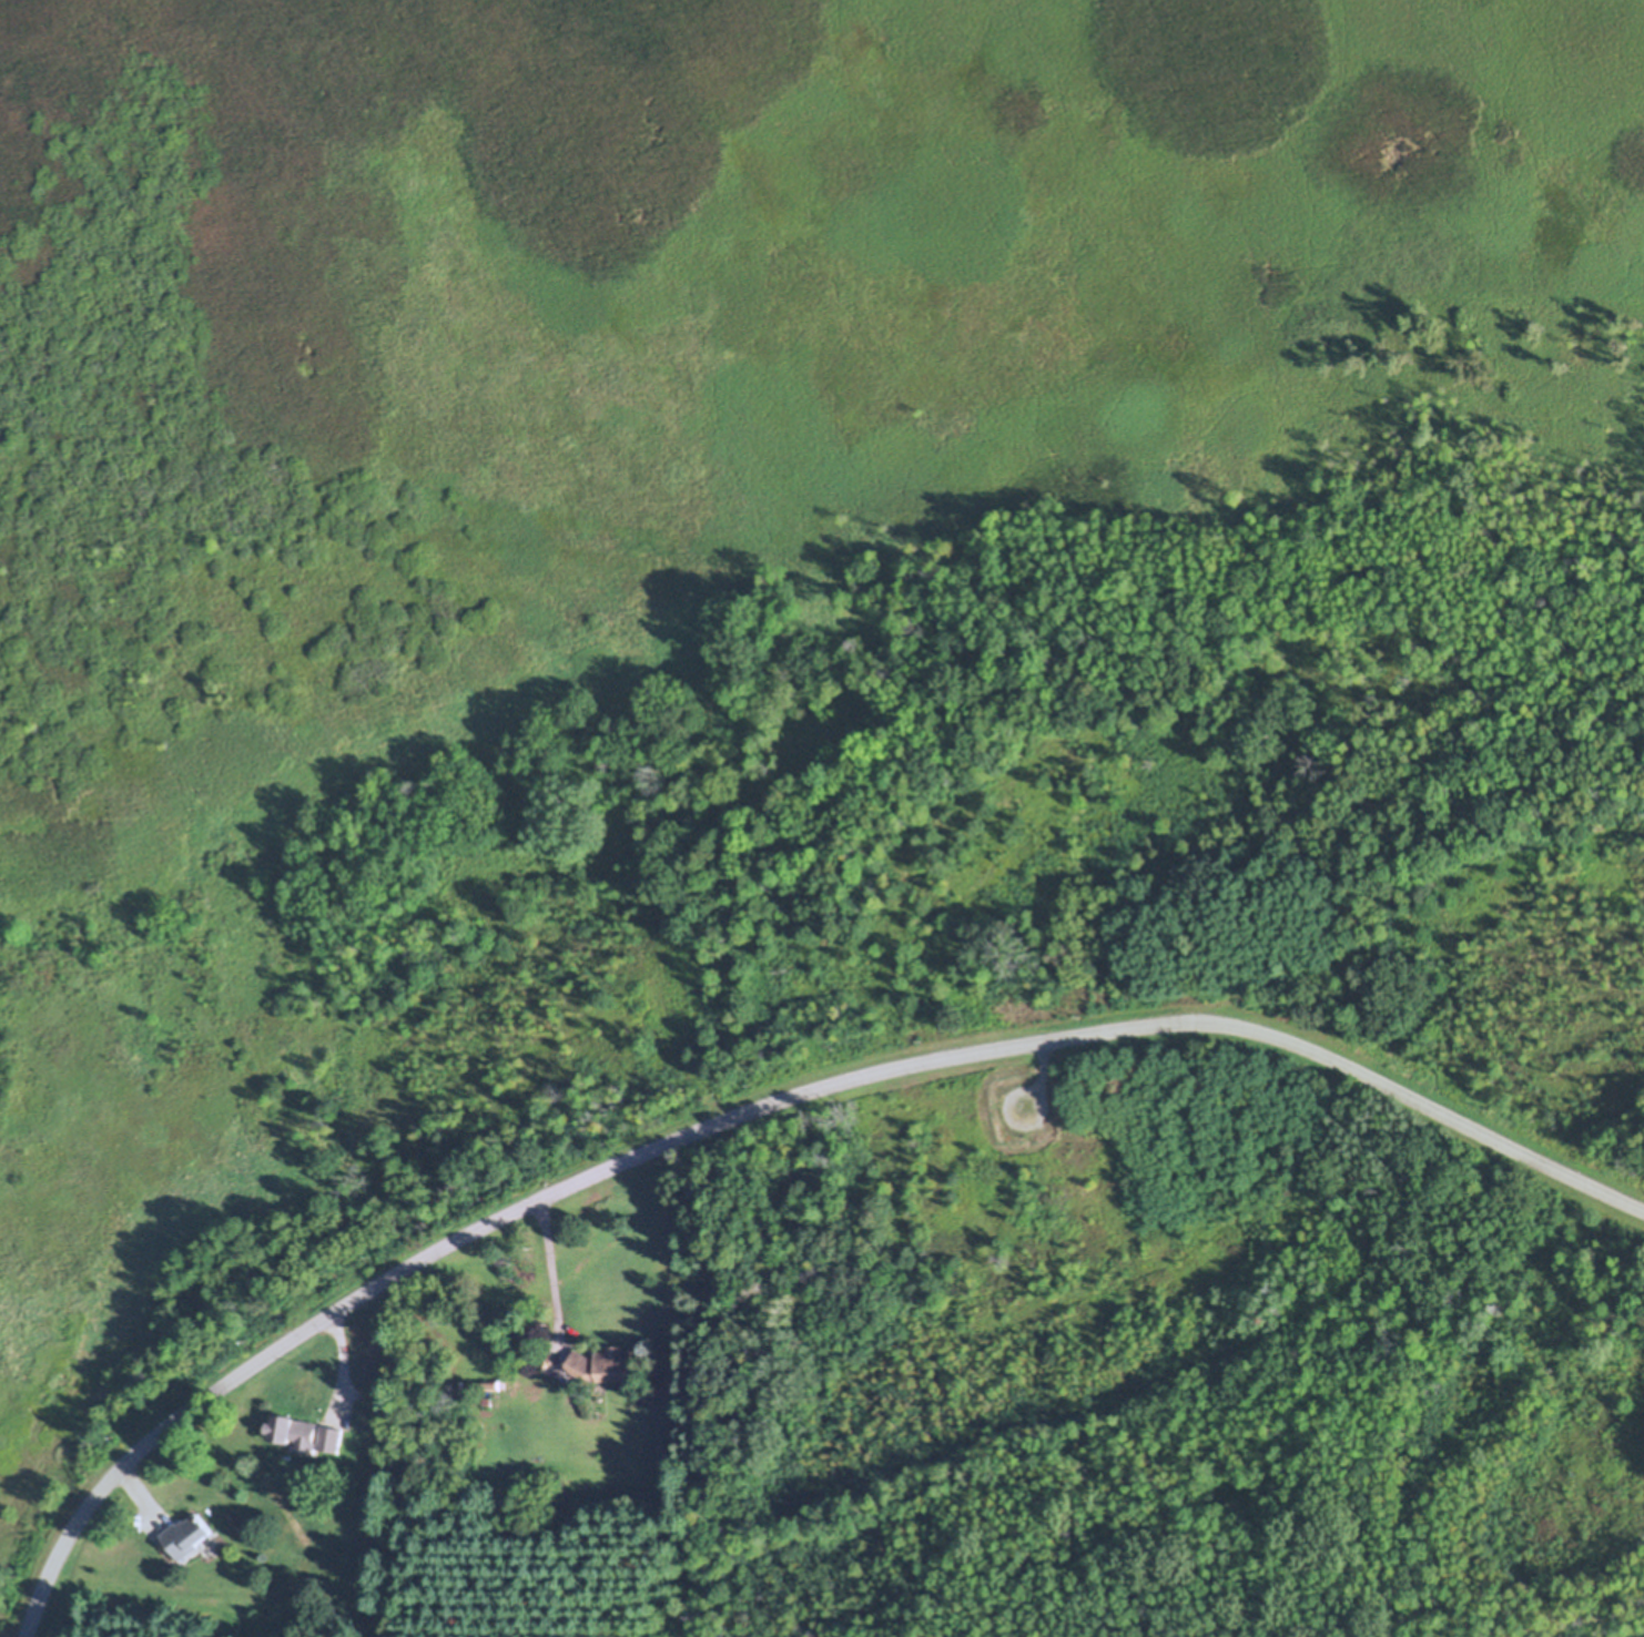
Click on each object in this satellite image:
road: (762, 1110)
road: (551, 1277)
building: (527, 1334)
building: (605, 1364)
building: (578, 1384)
building: (493, 1385)
building: (489, 1402)
building: (307, 1434)
building: (296, 1445)
building: (333, 1519)
building: (192, 1537)
building: (212, 1548)

